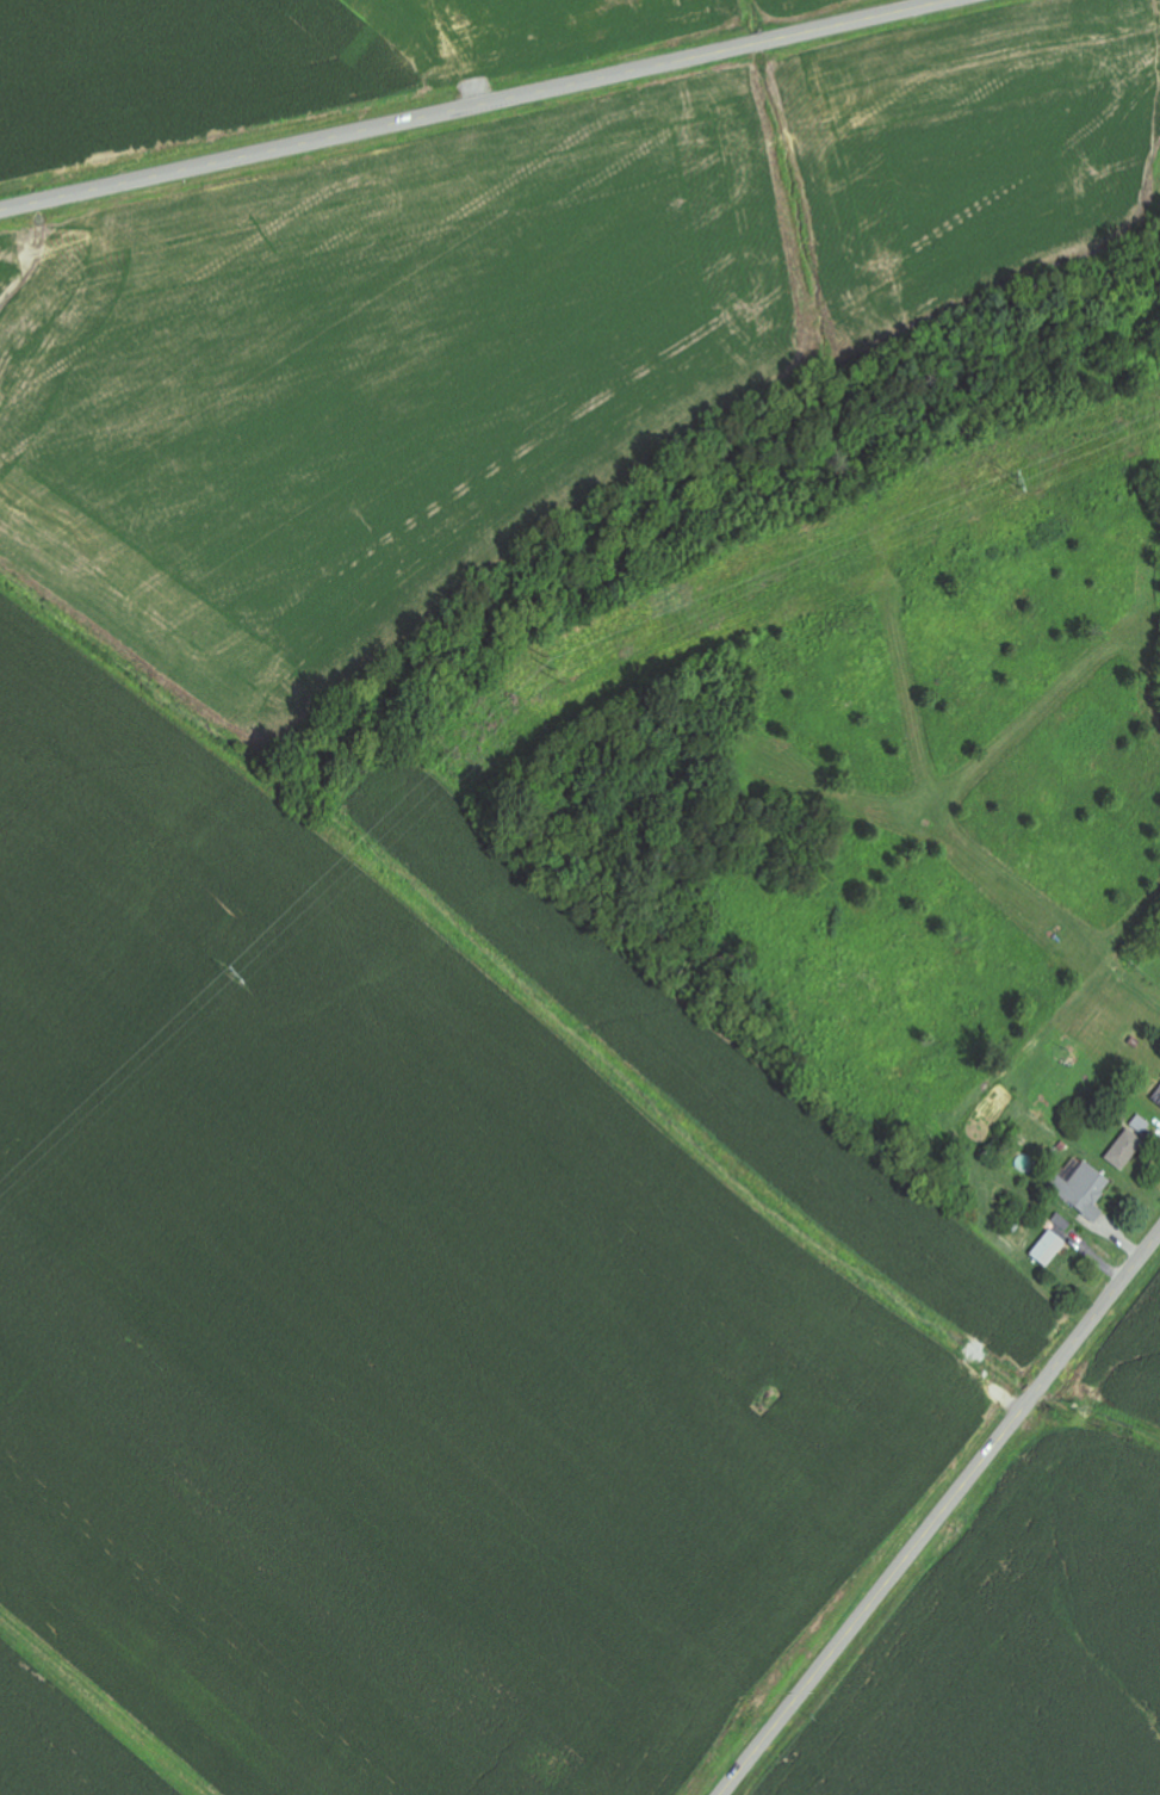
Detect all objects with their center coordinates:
road: (472, 105)
road: (1143, 998)
building: (1159, 1100)
building: (1133, 1143)
building: (1088, 1189)
building: (1063, 1223)
building: (1052, 1248)
road: (1118, 1286)
road: (899, 1566)

